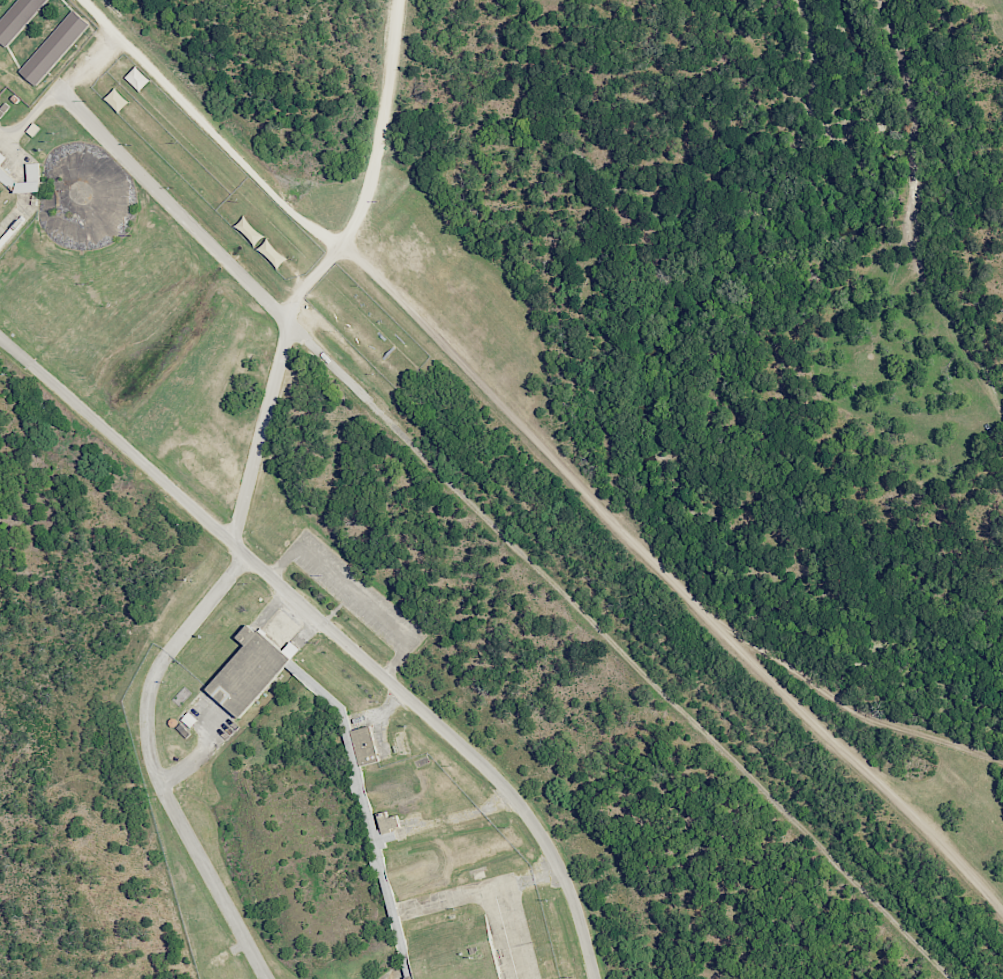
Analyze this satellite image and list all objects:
building: (17, 18)
building: (54, 48)
building: (137, 78)
building: (116, 100)
road: (4, 139)
building: (1, 157)
building: (7, 178)
road: (163, 203)
road: (917, 214)
building: (249, 231)
road: (631, 247)
building: (272, 254)
road: (387, 282)
road: (245, 503)
road: (707, 619)
road: (332, 635)
road: (636, 667)
building: (249, 670)
building: (364, 745)
building: (357, 776)
building: (388, 822)

